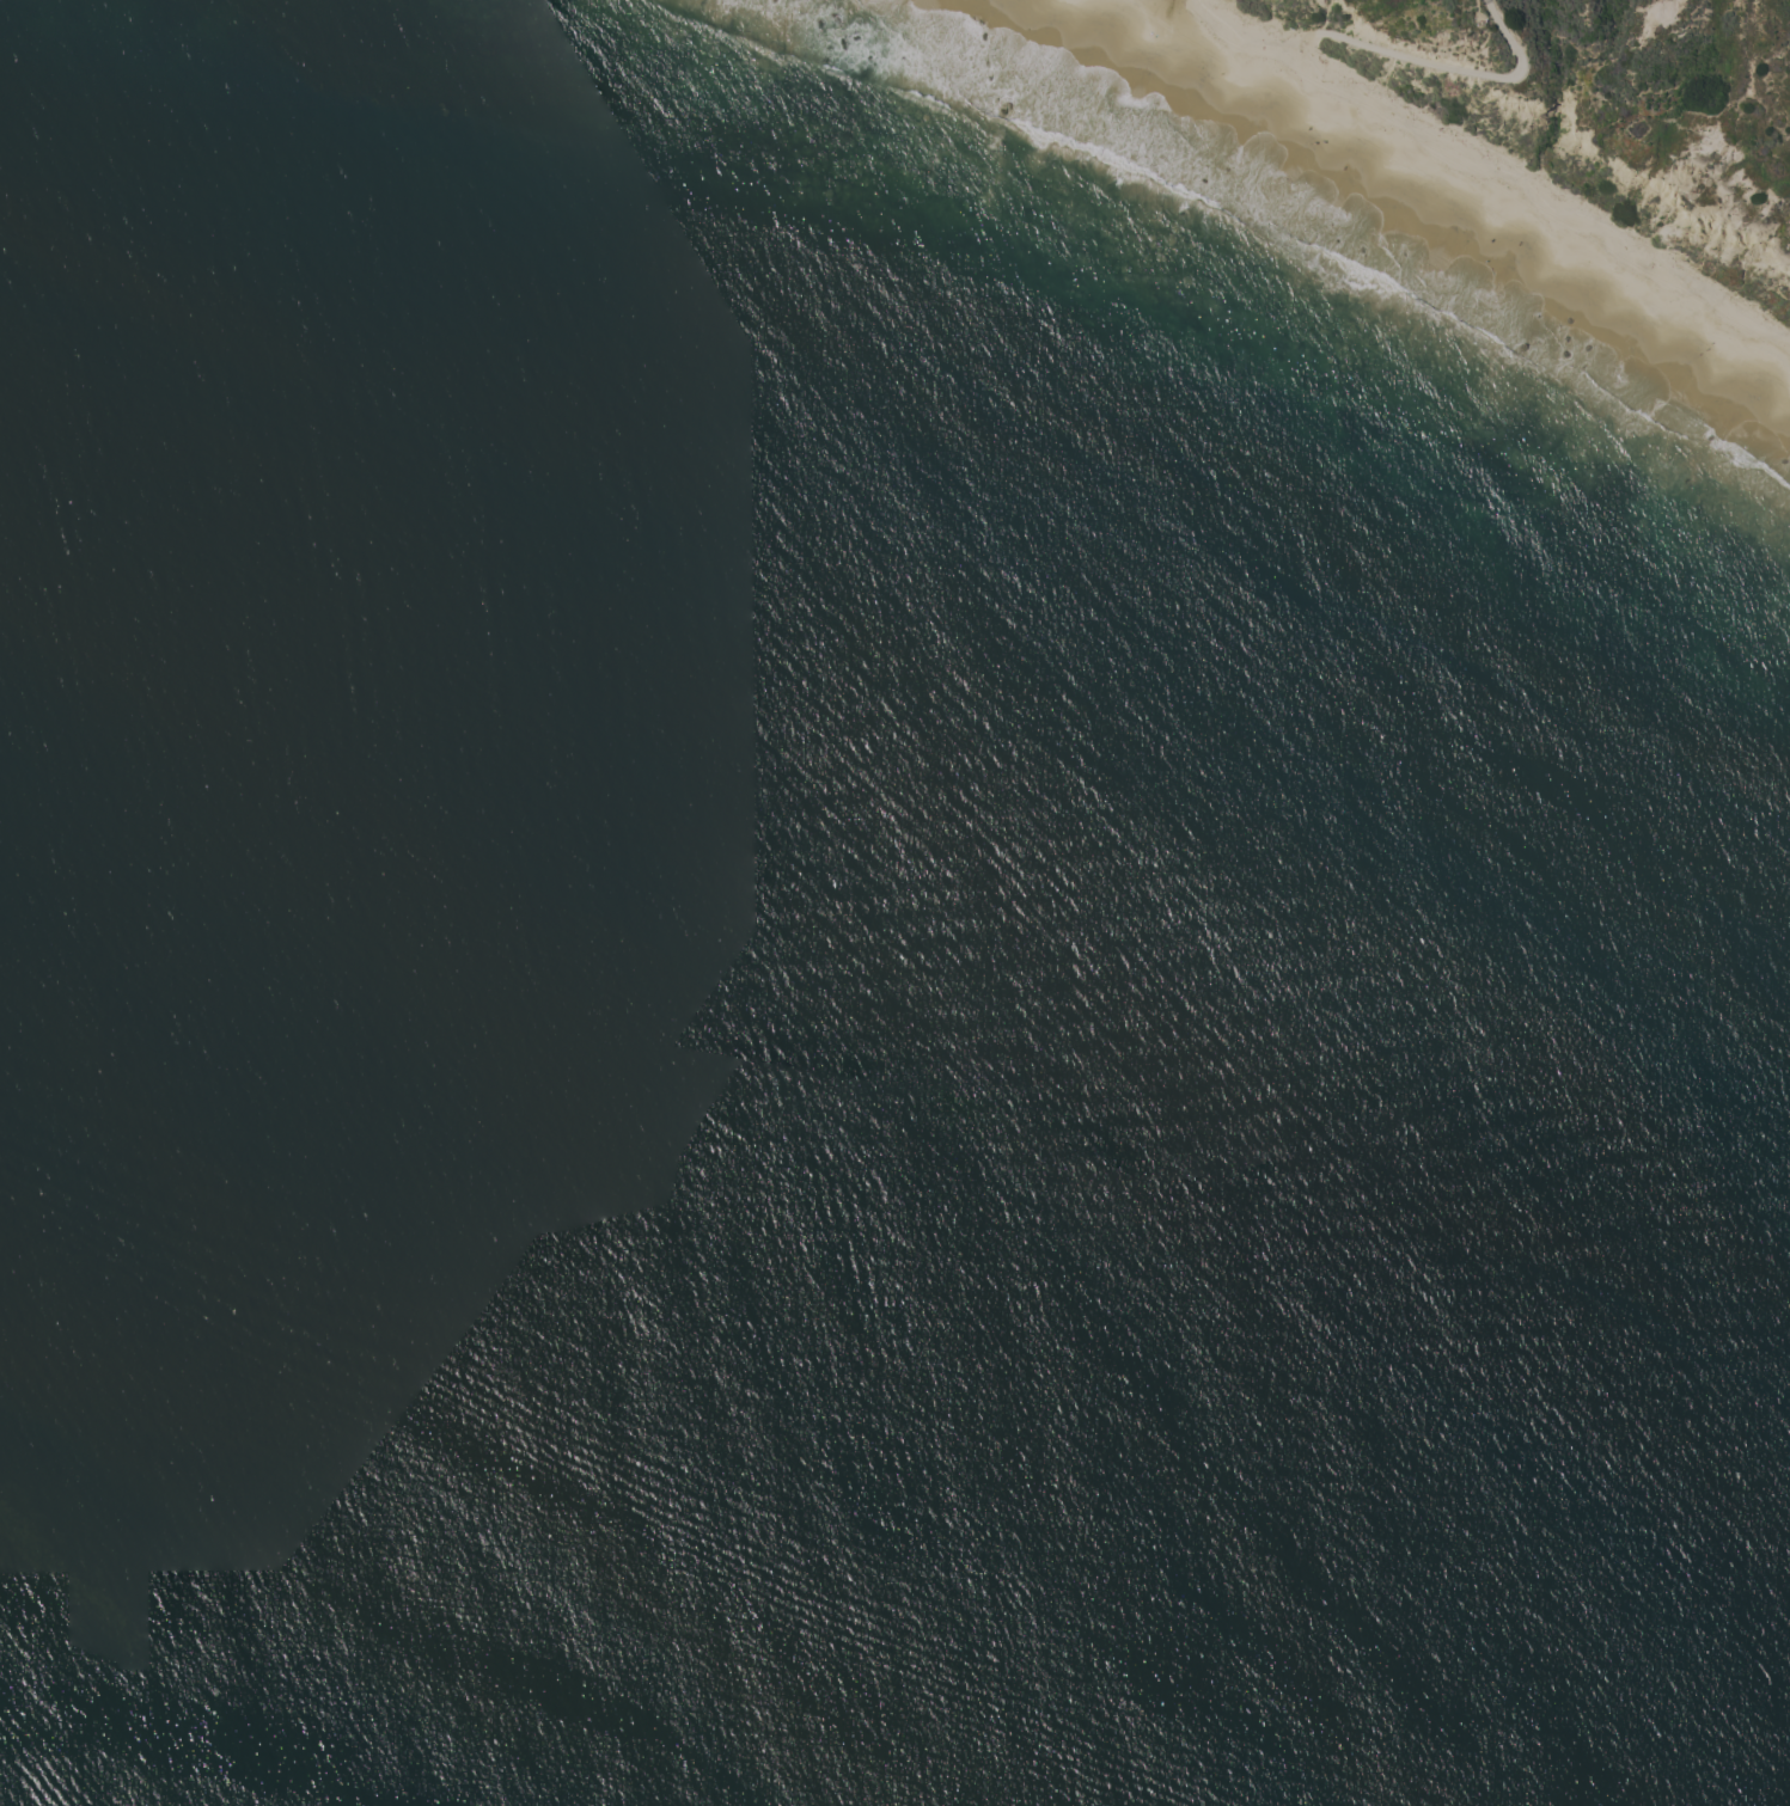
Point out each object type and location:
road: (1446, 71)

